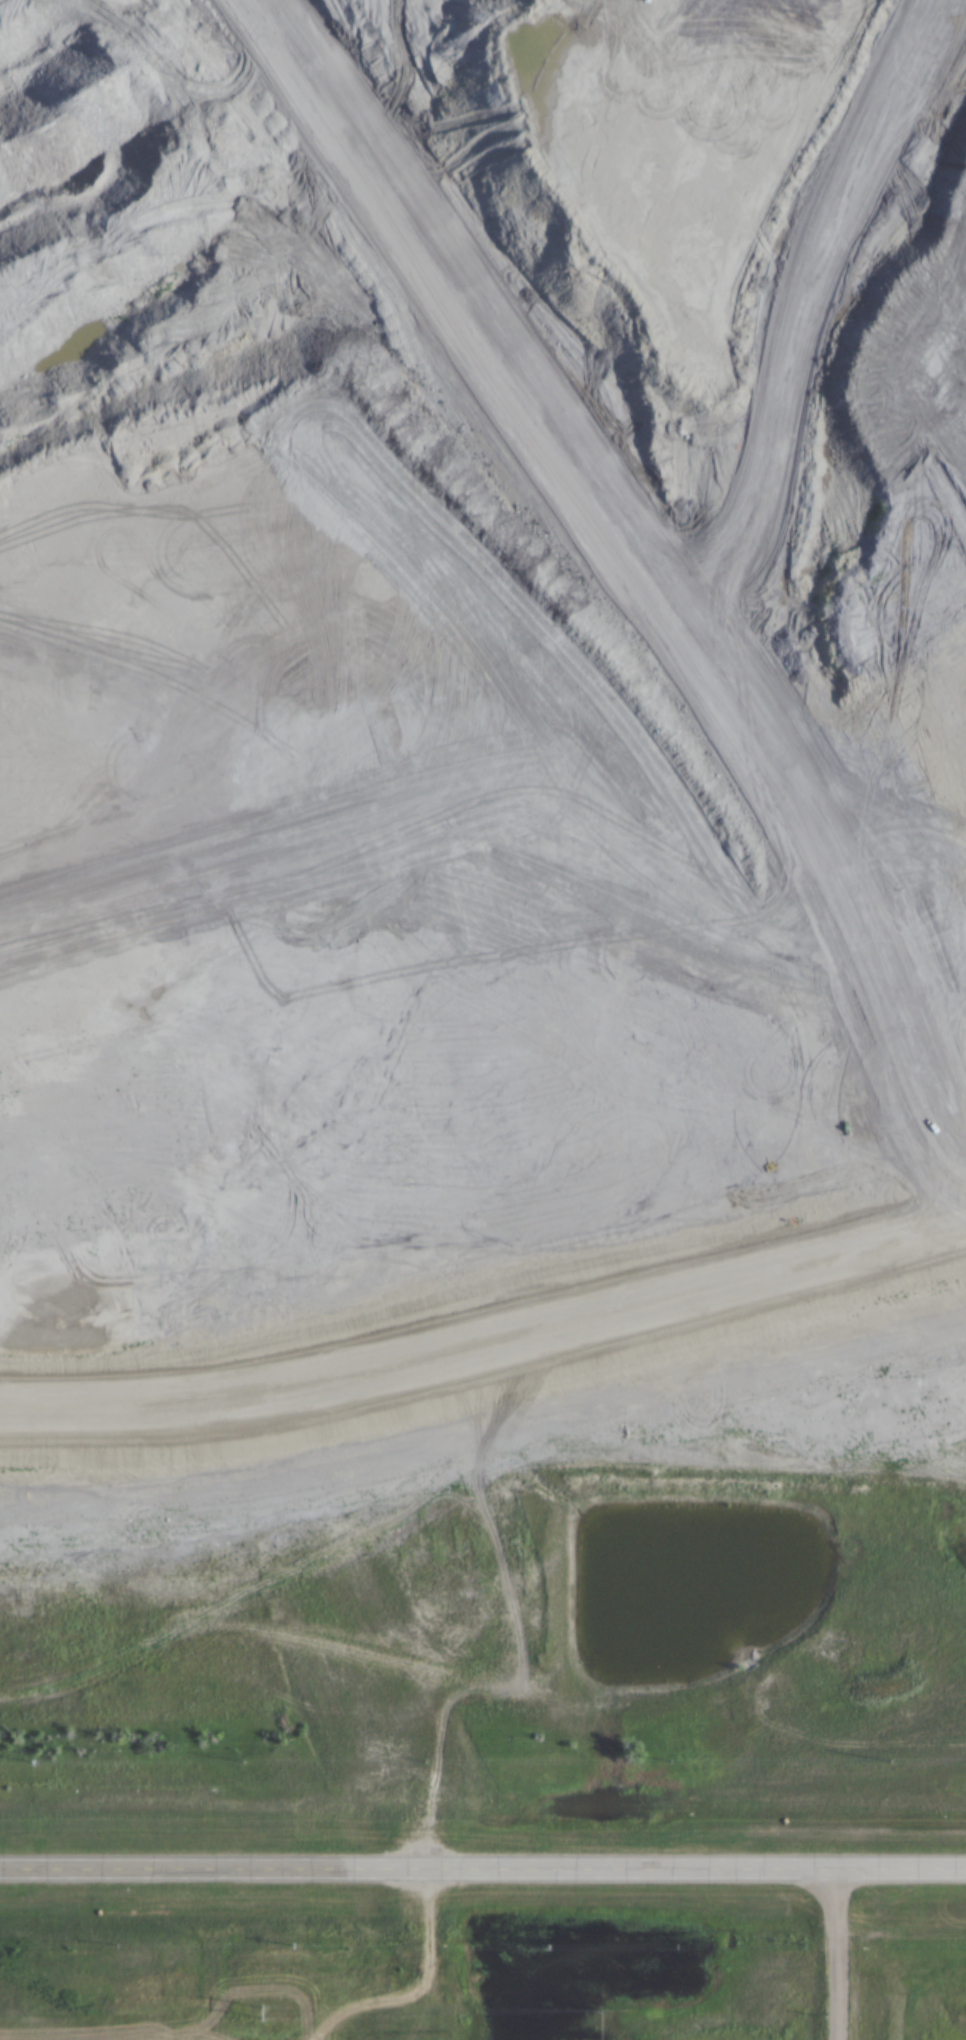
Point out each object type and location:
road: (482, 1867)
road: (837, 1953)
quarry: (468, 2016)

